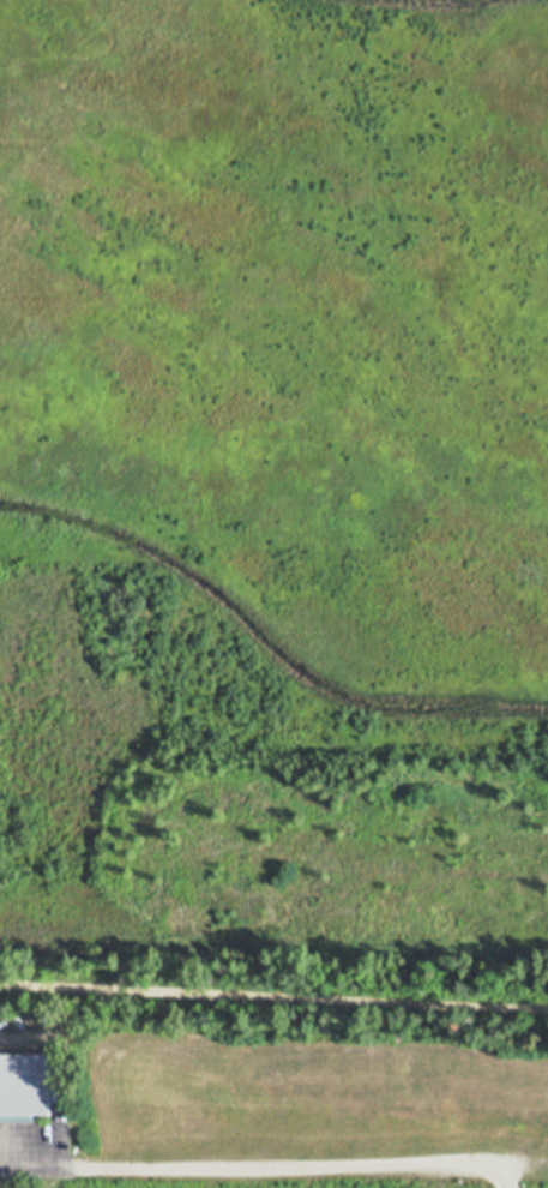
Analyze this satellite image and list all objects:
airport: (275, 469)
road: (273, 996)
building: (29, 1082)
road: (265, 1164)

